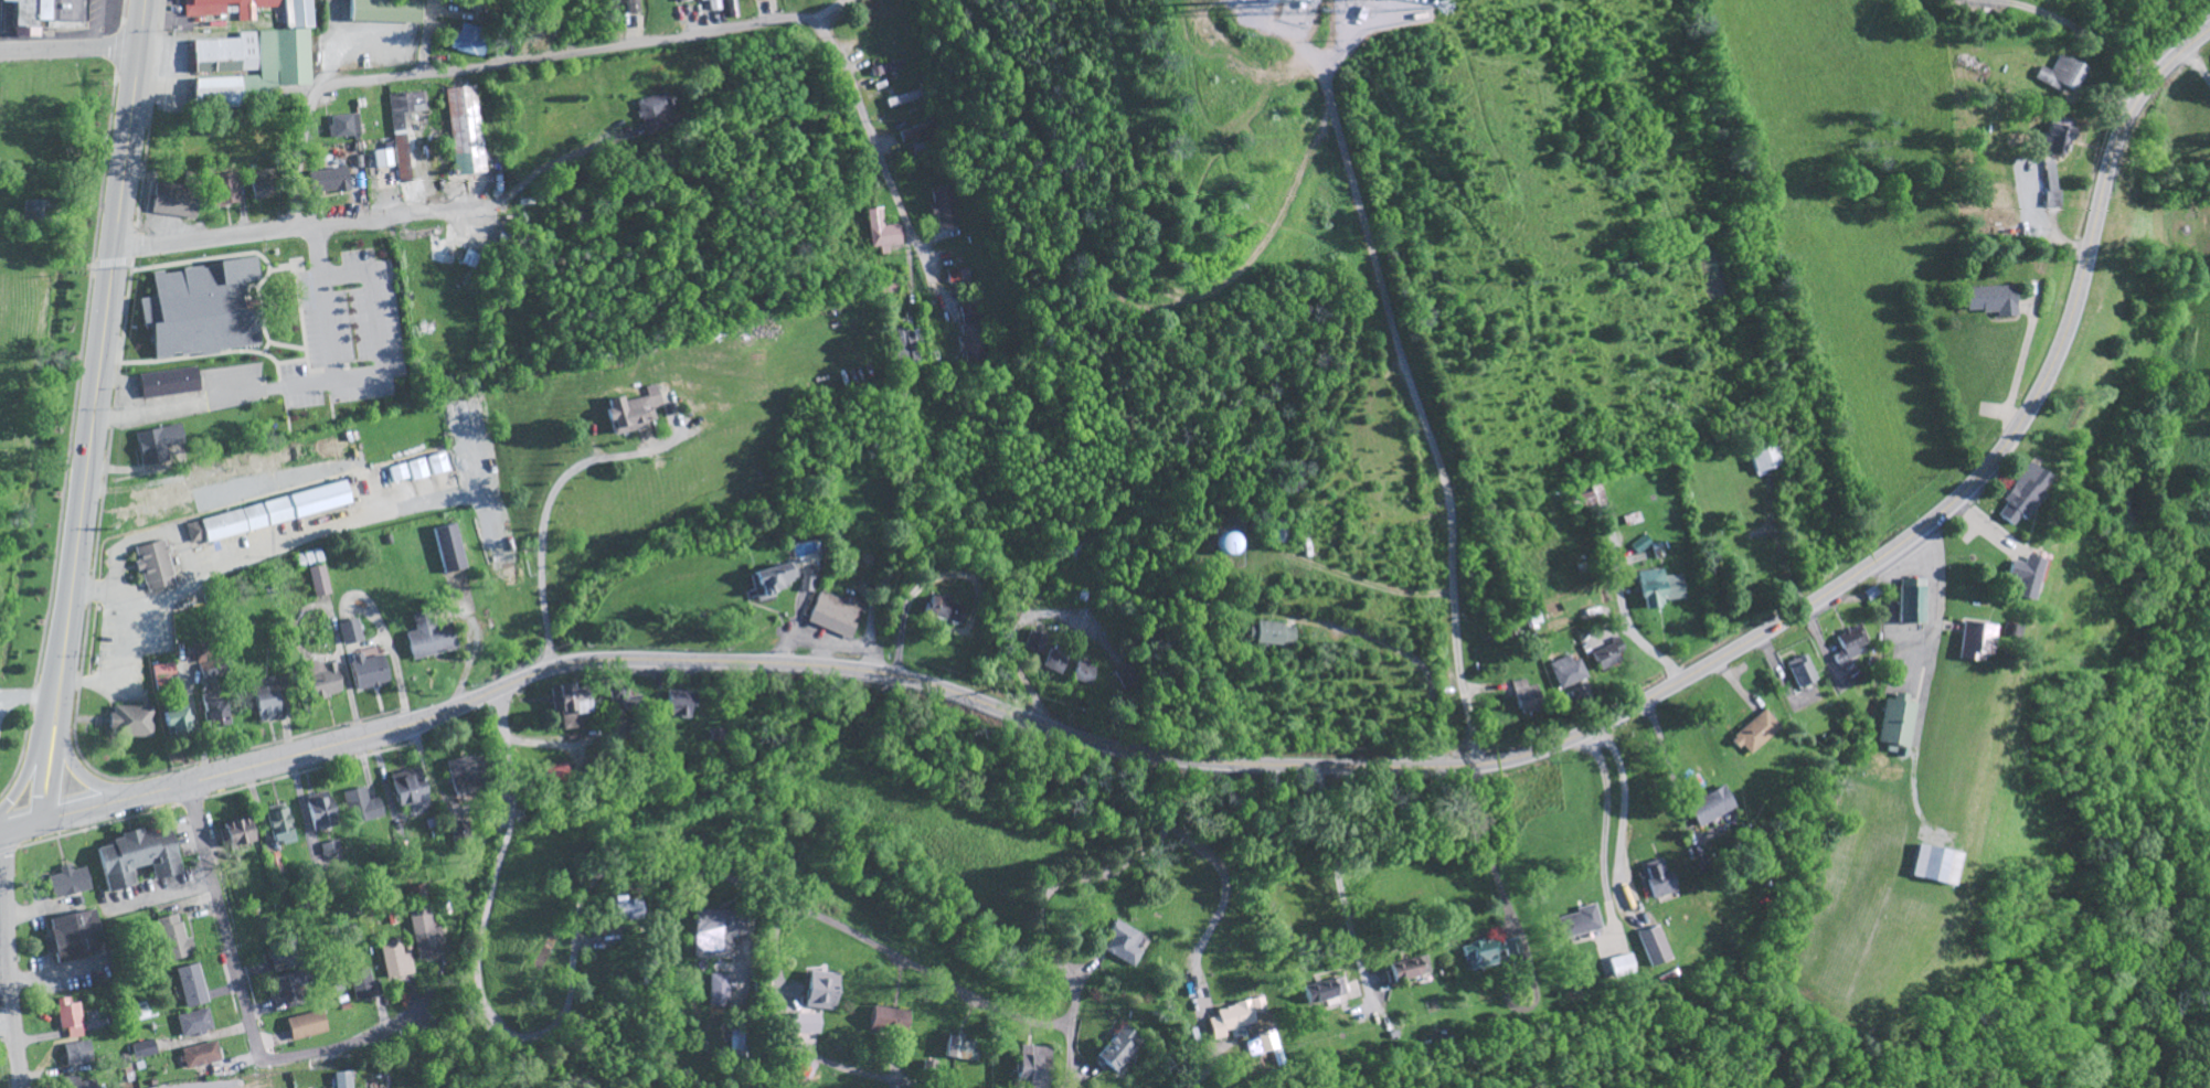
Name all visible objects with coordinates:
building: (710, 4)
building: (475, 6)
building: (630, 7)
building: (45, 11)
building: (381, 11)
building: (204, 12)
building: (546, 20)
road: (104, 25)
road: (2076, 28)
road: (427, 36)
road: (2196, 40)
building: (469, 42)
road: (616, 47)
road: (68, 51)
building: (256, 62)
road: (2197, 68)
building: (2059, 75)
building: (652, 114)
building: (342, 126)
building: (468, 127)
building: (399, 132)
building: (2055, 138)
building: (381, 159)
building: (326, 179)
building: (259, 184)
building: (2049, 185)
building: (224, 190)
building: (173, 201)
road: (310, 223)
building: (879, 232)
building: (297, 266)
building: (960, 276)
road: (1117, 278)
building: (888, 287)
building: (1989, 301)
building: (196, 310)
building: (973, 313)
building: (976, 343)
building: (907, 344)
building: (168, 383)
road: (331, 383)
road: (125, 387)
road: (1424, 408)
road: (93, 410)
building: (628, 413)
building: (156, 445)
building: (1762, 458)
building: (436, 465)
building: (407, 472)
building: (199, 476)
building: (2020, 495)
building: (164, 501)
building: (266, 514)
road: (545, 519)
road: (327, 529)
building: (1225, 545)
building: (1638, 546)
building: (447, 550)
building: (153, 564)
building: (2022, 578)
building: (318, 582)
building: (768, 582)
building: (806, 583)
building: (1657, 589)
road: (35, 596)
building: (1910, 602)
building: (944, 611)
building: (837, 616)
building: (350, 633)
building: (1267, 634)
road: (1011, 638)
building: (429, 641)
road: (1933, 642)
building: (1034, 643)
building: (1850, 643)
building: (1974, 643)
road: (126, 644)
building: (1605, 657)
road: (1411, 658)
building: (1054, 663)
building: (368, 670)
building: (163, 671)
building: (1799, 672)
building: (1564, 673)
building: (1083, 674)
building: (1852, 675)
building: (1129, 676)
road: (1927, 685)
road: (28, 687)
building: (1523, 698)
building: (261, 702)
building: (679, 704)
building: (565, 707)
building: (206, 714)
building: (170, 722)
building: (129, 723)
building: (1895, 725)
building: (1753, 734)
road: (1508, 758)
road: (270, 762)
road: (1668, 766)
road: (28, 768)
road: (81, 772)
building: (465, 776)
building: (554, 776)
building: (406, 791)
building: (360, 808)
building: (1707, 808)
road: (1624, 810)
building: (318, 811)
building: (277, 825)
road: (20, 826)
building: (235, 835)
road: (1481, 844)
building: (330, 849)
building: (136, 858)
building: (274, 863)
building: (1931, 866)
road: (1116, 871)
building: (1655, 879)
building: (67, 884)
road: (1338, 893)
road: (1221, 902)
building: (625, 913)
building: (1576, 924)
road: (838, 927)
building: (718, 932)
building: (426, 934)
building: (70, 938)
building: (173, 940)
building: (1122, 945)
building: (1650, 947)
building: (1485, 954)
road: (11, 959)
building: (397, 960)
building: (1618, 967)
building: (1406, 971)
building: (192, 986)
building: (291, 986)
building: (365, 986)
building: (718, 992)
building: (816, 992)
building: (1320, 992)
road: (247, 1002)
building: (1255, 1006)
building: (70, 1018)
building: (884, 1021)
building: (1226, 1021)
building: (194, 1024)
building: (801, 1025)
building: (306, 1027)
road: (506, 1034)
building: (955, 1049)
building: (1117, 1050)
building: (78, 1055)
building: (200, 1056)
road: (468, 1056)
building: (1023, 1064)
building: (938, 1067)
road: (1200, 1077)
building: (74, 1079)
building: (341, 1080)

